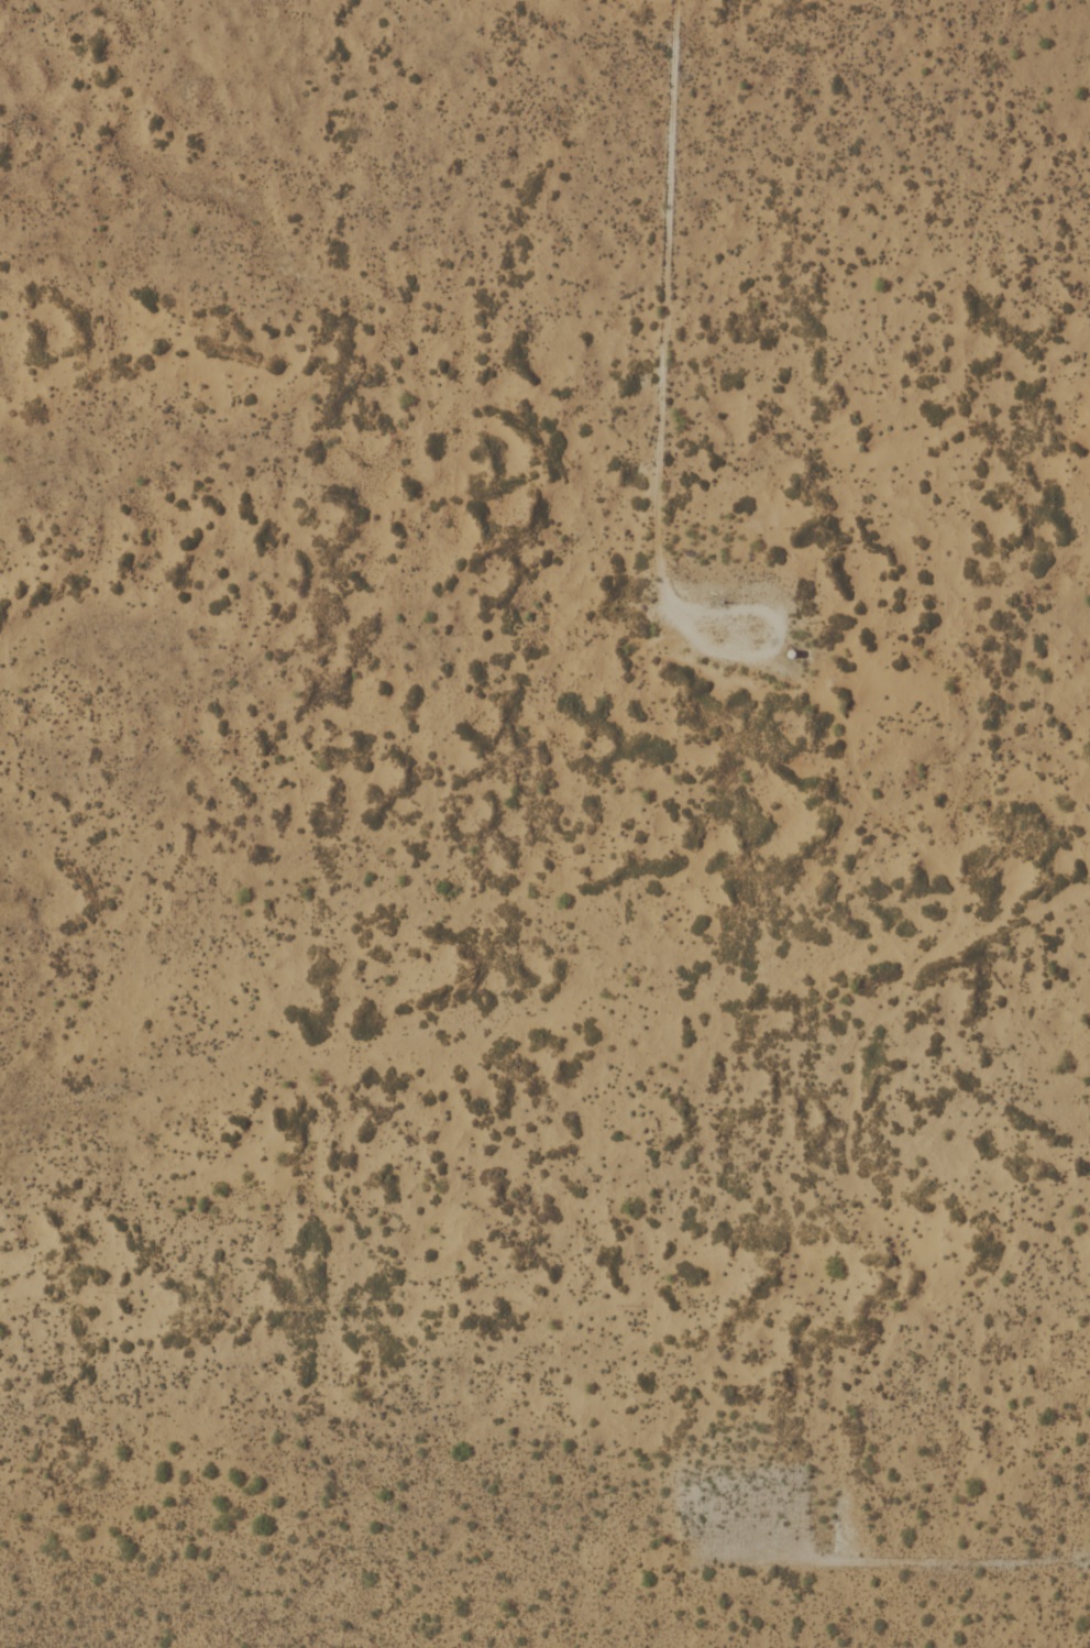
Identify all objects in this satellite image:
road: (665, 310)

